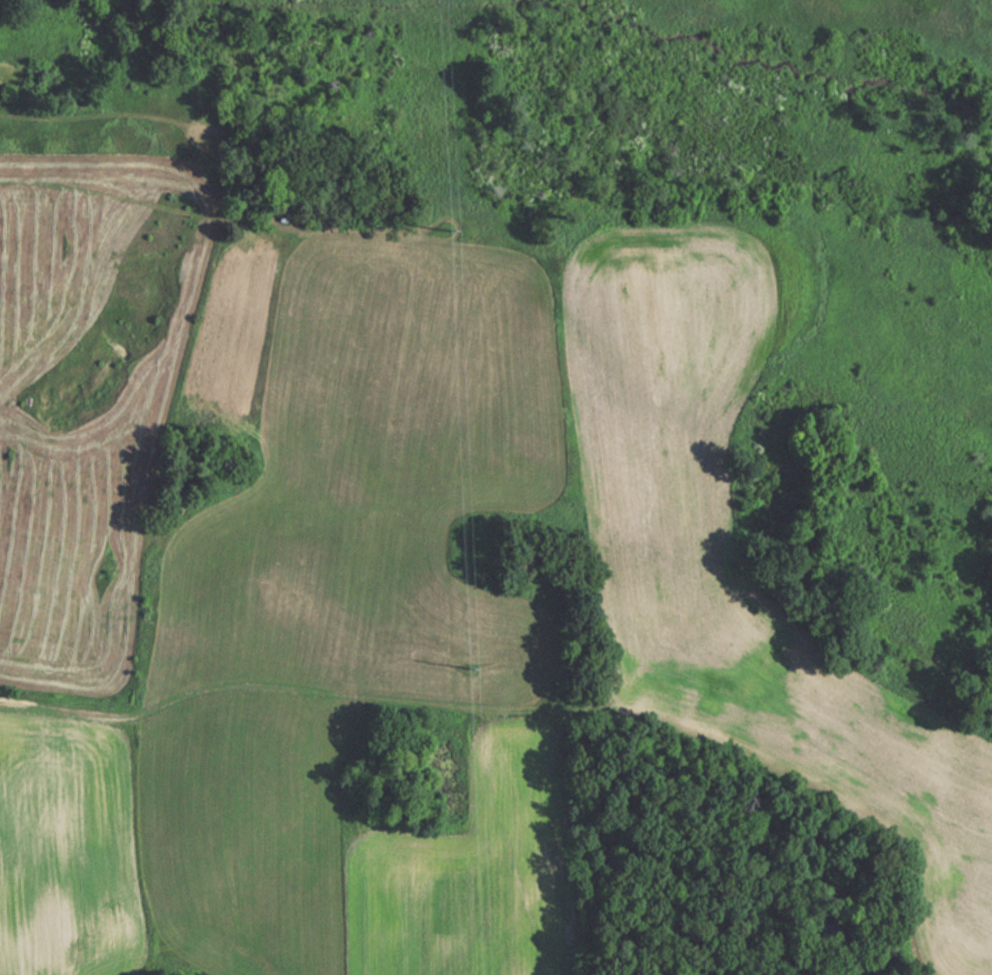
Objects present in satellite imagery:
power tower: (451, 230)
power tower: (470, 670)

